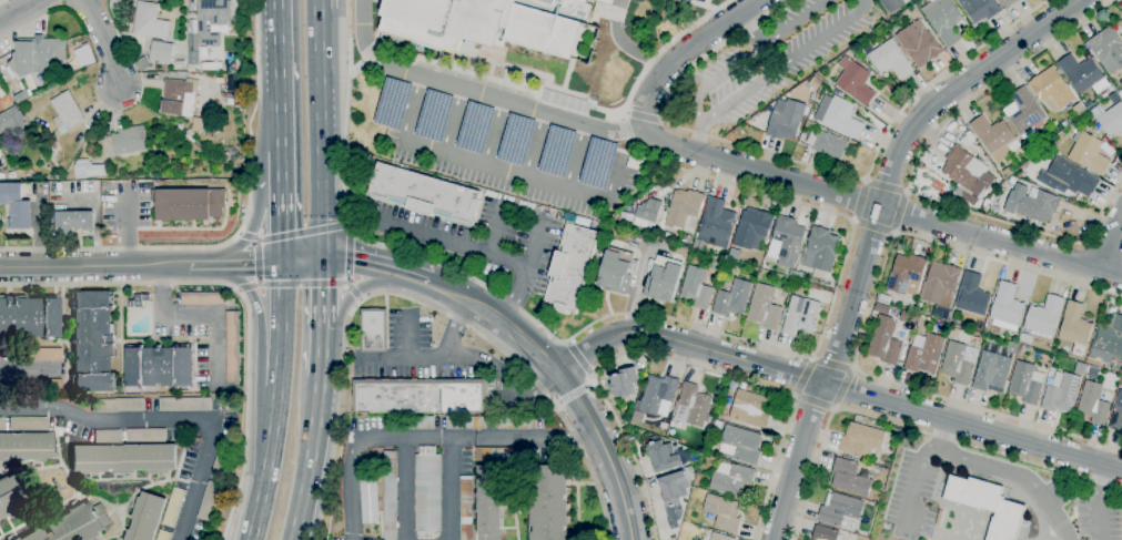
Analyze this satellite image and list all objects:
building: (160, 0)
parking lot: (377, 1)
building: (606, 1)
park: (712, 1)
road: (889, 1)
road: (705, 2)
building: (1008, 2)
road: (316, 3)
road: (701, 4)
building: (566, 7)
building: (980, 9)
road: (20, 10)
road: (347, 19)
road: (380, 20)
building: (943, 20)
building: (146, 21)
building: (212, 21)
building: (478, 23)
building: (1120, 24)
road: (751, 28)
road: (104, 42)
building: (919, 43)
road: (623, 44)
building: (1108, 49)
road: (683, 51)
building: (161, 52)
road: (371, 54)
building: (37, 55)
parking lot: (776, 57)
building: (890, 60)
building: (142, 64)
building: (179, 65)
road: (355, 67)
building: (1083, 74)
road: (279, 75)
building: (855, 82)
building: (815, 83)
building: (1052, 90)
road: (565, 91)
building: (1120, 94)
building: (21, 96)
building: (179, 98)
building: (237, 99)
building: (393, 103)
building: (236, 109)
building: (1079, 109)
road: (625, 111)
building: (65, 112)
building: (434, 114)
road: (619, 115)
building: (1027, 115)
building: (839, 116)
road: (643, 118)
road: (706, 118)
road: (661, 119)
building: (11, 120)
building: (786, 120)
building: (1112, 120)
road: (456, 121)
building: (1064, 124)
building: (809, 125)
building: (475, 128)
road: (624, 130)
road: (496, 132)
road: (319, 134)
building: (993, 135)
road: (698, 137)
building: (516, 140)
building: (129, 141)
road: (536, 144)
building: (827, 145)
building: (1055, 145)
building: (54, 146)
building: (557, 151)
parking lot: (508, 152)
building: (1089, 153)
road: (577, 156)
road: (717, 160)
road: (802, 162)
building: (1, 163)
building: (598, 163)
road: (281, 165)
road: (494, 167)
building: (961, 169)
building: (87, 170)
building: (19, 174)
road: (910, 174)
building: (1072, 177)
road: (865, 180)
building: (1012, 181)
road: (885, 186)
road: (907, 191)
building: (422, 193)
road: (860, 201)
building: (189, 204)
building: (1037, 204)
building: (17, 206)
road: (408, 207)
building: (685, 210)
road: (898, 211)
building: (646, 214)
road: (281, 221)
road: (852, 221)
building: (72, 222)
road: (346, 224)
building: (716, 224)
road: (873, 224)
road: (251, 225)
road: (125, 226)
road: (437, 228)
building: (752, 230)
road: (350, 231)
road: (498, 231)
traffic signals: (282, 232)
road: (302, 232)
road: (872, 232)
road: (893, 232)
road: (240, 233)
road: (236, 235)
road: (247, 236)
parking lot: (482, 236)
road: (257, 240)
road: (255, 242)
building: (787, 242)
road: (1112, 243)
road: (453, 244)
road: (1105, 246)
building: (820, 252)
road: (346, 253)
road: (533, 253)
traffic signals: (351, 258)
road: (255, 262)
road: (303, 262)
road: (366, 262)
road: (540, 262)
road: (201, 265)
road: (247, 265)
traffic signals: (252, 265)
road: (94, 266)
building: (569, 267)
building: (616, 271)
road: (548, 273)
building: (906, 274)
building: (800, 275)
road: (345, 278)
road: (418, 278)
building: (663, 279)
road: (256, 282)
road: (345, 282)
road: (302, 283)
road: (257, 285)
road: (245, 286)
building: (699, 286)
traffic signals: (323, 287)
building: (941, 288)
road: (236, 289)
road: (352, 291)
road: (351, 293)
building: (973, 295)
road: (241, 296)
building: (203, 298)
road: (357, 298)
building: (732, 298)
road: (384, 299)
building: (138, 300)
road: (423, 302)
road: (322, 303)
road: (506, 304)
building: (1007, 305)
building: (764, 307)
building: (918, 307)
building: (881, 309)
road: (201, 315)
building: (29, 316)
road: (663, 316)
building: (801, 317)
road: (866, 319)
building: (1042, 319)
road: (498, 322)
road: (454, 328)
building: (1075, 328)
building: (372, 329)
road: (384, 329)
road: (260, 330)
road: (407, 334)
building: (93, 342)
building: (885, 342)
road: (567, 343)
building: (1106, 345)
road: (354, 346)
building: (232, 347)
building: (926, 351)
building: (39, 354)
parking lot: (417, 354)
road: (384, 355)
road: (464, 357)
road: (578, 357)
road: (812, 357)
road: (675, 360)
road: (321, 361)
building: (960, 363)
road: (831, 364)
road: (7, 366)
building: (159, 367)
road: (853, 368)
road: (442, 369)
building: (1121, 370)
building: (991, 371)
road: (590, 374)
road: (802, 376)
road: (420, 381)
road: (346, 383)
building: (624, 383)
building: (1027, 384)
building: (39, 385)
road: (495, 385)
road: (590, 386)
road: (835, 386)
road: (842, 387)
building: (1061, 393)
building: (658, 394)
building: (417, 395)
road: (572, 395)
road: (792, 396)
road: (813, 400)
road: (276, 401)
building: (184, 404)
building: (1093, 404)
building: (118, 405)
road: (555, 405)
building: (693, 406)
road: (833, 408)
building: (750, 409)
building: (1116, 415)
building: (638, 417)
road: (169, 419)
building: (414, 422)
building: (465, 422)
building: (516, 422)
building: (1, 424)
building: (28, 424)
road: (912, 427)
road: (944, 430)
building: (894, 431)
building: (107, 436)
building: (145, 436)
road: (425, 437)
building: (714, 437)
building: (860, 440)
building: (741, 445)
building: (26, 446)
road: (605, 452)
building: (495, 455)
building: (664, 456)
building: (123, 458)
road: (310, 460)
building: (221, 461)
building: (689, 473)
road: (1017, 475)
road: (916, 476)
building: (699, 478)
building: (849, 478)
building: (730, 479)
road: (451, 488)
road: (405, 489)
parking lot: (1057, 491)
building: (427, 493)
building: (390, 495)
building: (10, 496)
building: (674, 496)
parking lot: (911, 498)
building: (209, 501)
building: (367, 501)
road: (1100, 501)
building: (488, 502)
building: (548, 502)
building: (985, 505)
building: (173, 508)
building: (466, 508)
building: (839, 509)
building: (722, 512)
building: (145, 517)
parking lot: (1098, 519)
building: (73, 524)
building: (825, 533)
building: (163, 536)
building: (720, 537)
building: (673, 538)
building: (16, 539)
building: (693, 539)

